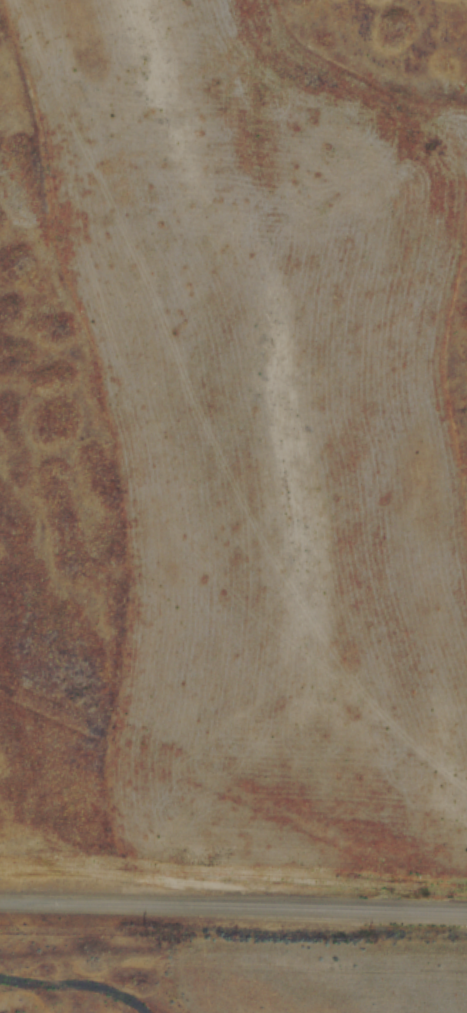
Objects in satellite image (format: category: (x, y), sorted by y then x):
road: (233, 908)
road: (76, 984)

